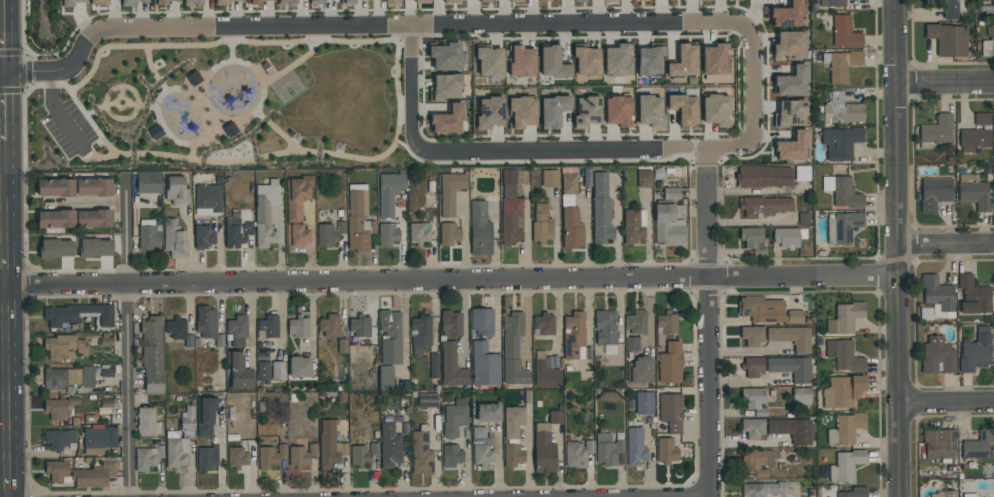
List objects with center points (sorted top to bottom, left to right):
building: (318, 0)
building: (365, 0)
building: (544, 0)
building: (601, 0)
building: (609, 0)
building: (644, 0)
building: (703, 0)
building: (260, 1)
building: (390, 1)
building: (422, 1)
building: (449, 1)
building: (485, 1)
building: (517, 1)
building: (579, 1)
building: (71, 2)
building: (133, 2)
building: (163, 2)
building: (193, 2)
building: (225, 2)
building: (287, 2)
building: (349, 2)
building: (99, 3)
building: (832, 3)
building: (945, 8)
building: (992, 9)
building: (787, 15)
road: (677, 19)
building: (845, 32)
road: (2, 36)
building: (947, 39)
building: (988, 43)
building: (790, 45)
building: (447, 56)
building: (650, 59)
building: (587, 61)
building: (617, 61)
building: (684, 61)
road: (241, 62)
building: (489, 62)
building: (522, 62)
building: (715, 62)
building: (553, 63)
building: (841, 65)
building: (266, 68)
road: (27, 71)
road: (1, 72)
building: (193, 79)
building: (791, 82)
road: (943, 82)
road: (202, 84)
road: (121, 87)
park: (286, 87)
building: (445, 87)
road: (263, 90)
road: (121, 92)
park: (225, 106)
road: (398, 106)
road: (148, 107)
building: (684, 107)
road: (120, 108)
building: (553, 110)
building: (716, 110)
building: (842, 110)
building: (618, 111)
building: (649, 111)
road: (56, 112)
building: (522, 112)
building: (587, 112)
building: (490, 113)
building: (790, 113)
road: (248, 117)
road: (121, 118)
building: (448, 119)
building: (982, 119)
road: (214, 129)
building: (229, 129)
building: (935, 131)
building: (155, 132)
road: (172, 139)
building: (974, 140)
building: (841, 142)
building: (792, 147)
road: (2, 155)
building: (763, 177)
road: (5, 178)
building: (550, 178)
building: (643, 179)
building: (148, 183)
building: (569, 184)
building: (93, 187)
building: (55, 188)
building: (176, 191)
building: (389, 192)
building: (450, 192)
building: (842, 192)
building: (973, 192)
building: (671, 193)
building: (934, 193)
building: (207, 199)
road: (92, 204)
building: (769, 207)
building: (297, 209)
building: (601, 209)
building: (510, 211)
road: (706, 212)
building: (265, 213)
road: (3, 216)
building: (56, 219)
building: (94, 219)
building: (358, 219)
building: (669, 224)
building: (541, 225)
building: (842, 227)
building: (572, 228)
building: (634, 228)
building: (479, 229)
building: (236, 232)
building: (329, 234)
building: (387, 234)
building: (418, 234)
building: (449, 234)
building: (148, 235)
building: (203, 236)
building: (788, 237)
building: (752, 238)
building: (175, 239)
road: (586, 240)
road: (944, 247)
building: (55, 248)
building: (95, 248)
road: (894, 248)
road: (450, 280)
building: (938, 294)
building: (974, 296)
building: (762, 309)
building: (78, 314)
building: (795, 316)
building: (844, 318)
road: (528, 320)
building: (482, 322)
building: (450, 323)
building: (636, 323)
building: (543, 324)
building: (208, 325)
building: (329, 326)
building: (360, 326)
building: (665, 326)
building: (267, 327)
building: (298, 327)
building: (605, 327)
building: (237, 330)
building: (179, 331)
building: (420, 333)
road: (6, 334)
road: (125, 336)
building: (574, 336)
building: (752, 336)
building: (390, 337)
building: (791, 338)
building: (632, 343)
building: (60, 347)
building: (513, 350)
building: (976, 351)
building: (151, 354)
building: (844, 355)
building: (937, 356)
building: (670, 363)
building: (484, 365)
building: (434, 366)
building: (452, 366)
building: (753, 366)
building: (299, 367)
building: (791, 368)
building: (239, 371)
building: (263, 371)
building: (278, 371)
building: (641, 371)
building: (545, 373)
building: (68, 377)
building: (386, 378)
road: (3, 382)
road: (708, 386)
building: (842, 391)
building: (801, 396)
road: (945, 397)
building: (754, 400)
building: (644, 403)
building: (55, 409)
building: (671, 412)
building: (488, 413)
building: (206, 416)
building: (555, 417)
building: (455, 418)
building: (187, 419)
building: (146, 422)
building: (513, 422)
building: (753, 428)
building: (845, 429)
building: (792, 430)
building: (479, 432)
road: (7, 439)
building: (59, 439)
building: (99, 439)
building: (940, 444)
road: (746, 445)
building: (978, 445)
building: (330, 446)
building: (390, 446)
building: (635, 447)
building: (607, 449)
building: (175, 450)
building: (543, 450)
building: (666, 451)
building: (577, 453)
road: (222, 454)
building: (363, 454)
building: (421, 454)
building: (482, 454)
building: (301, 455)
building: (513, 455)
building: (146, 456)
building: (270, 456)
building: (451, 456)
building: (206, 457)
building: (236, 458)
building: (756, 461)
building: (846, 465)
building: (57, 472)
building: (94, 475)
building: (762, 489)
building: (854, 492)
building: (944, 494)
building: (969, 495)
road: (4, 496)

